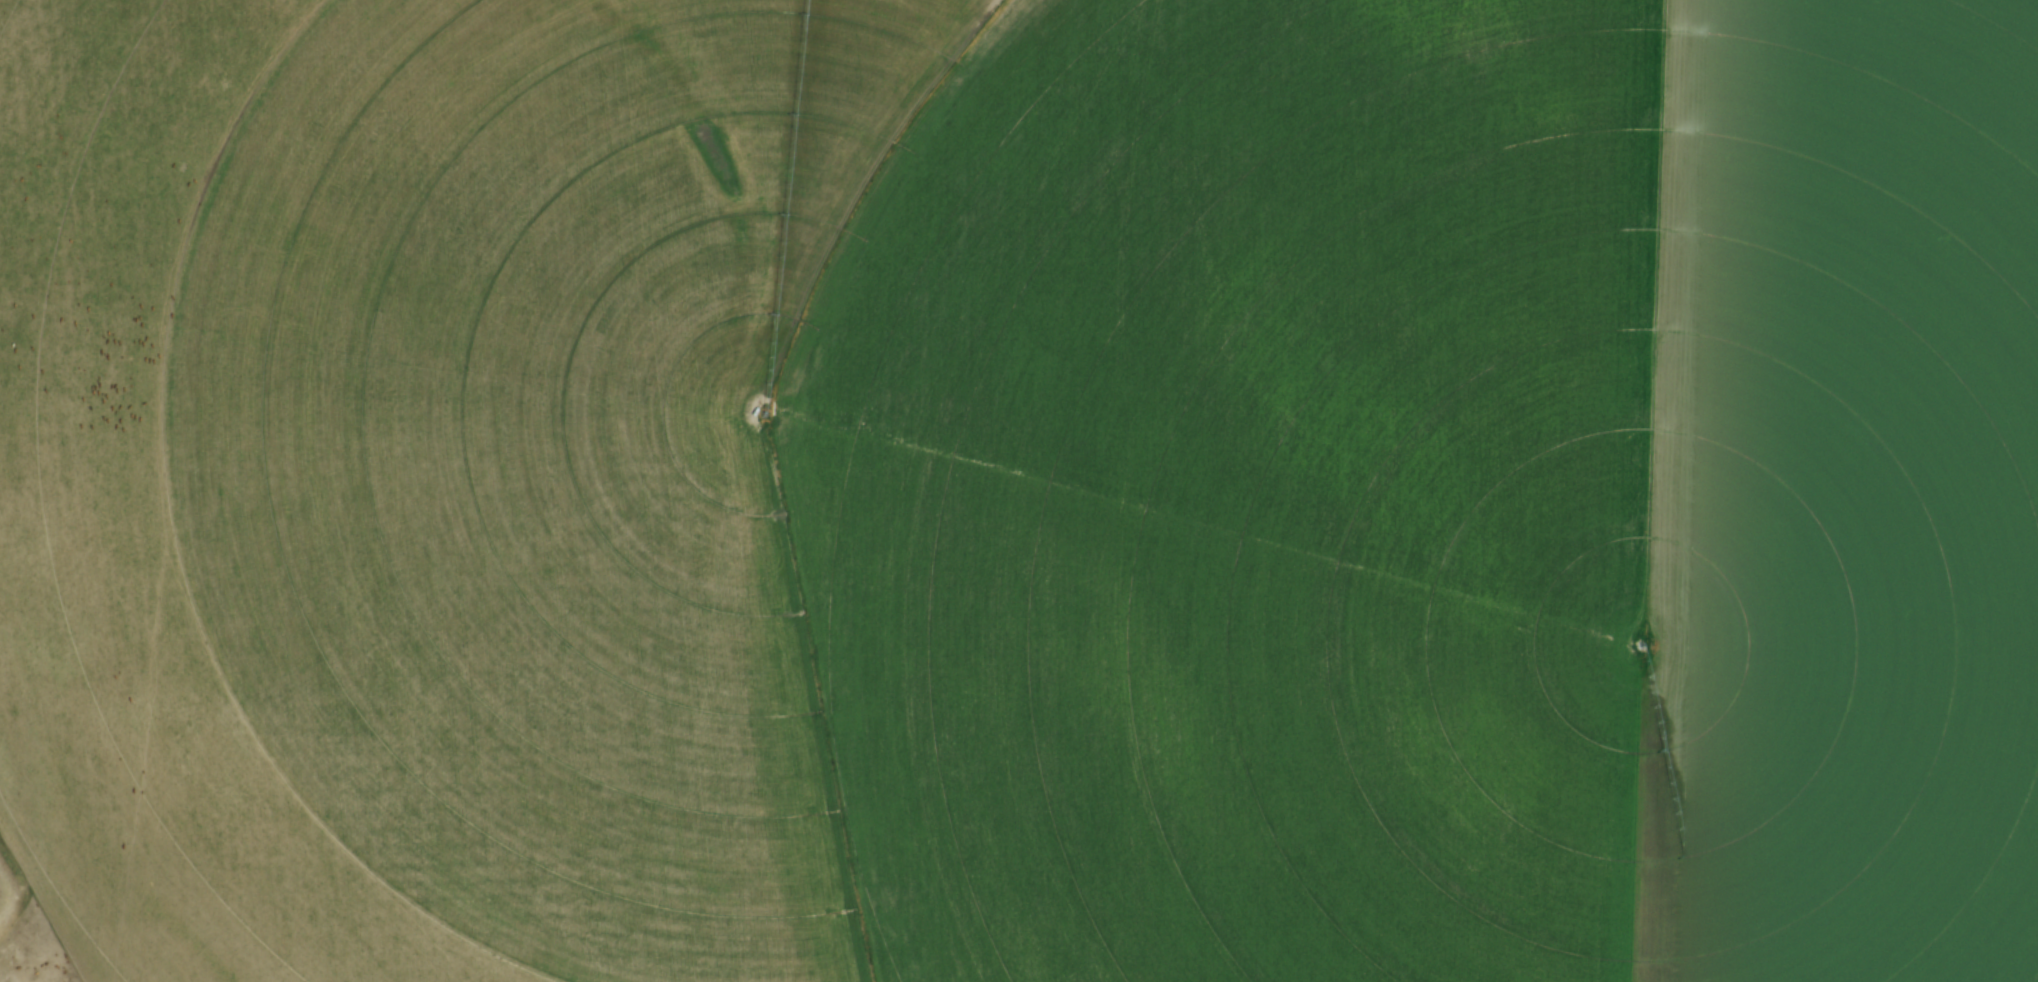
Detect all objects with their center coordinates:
crop: (1023, 489)

